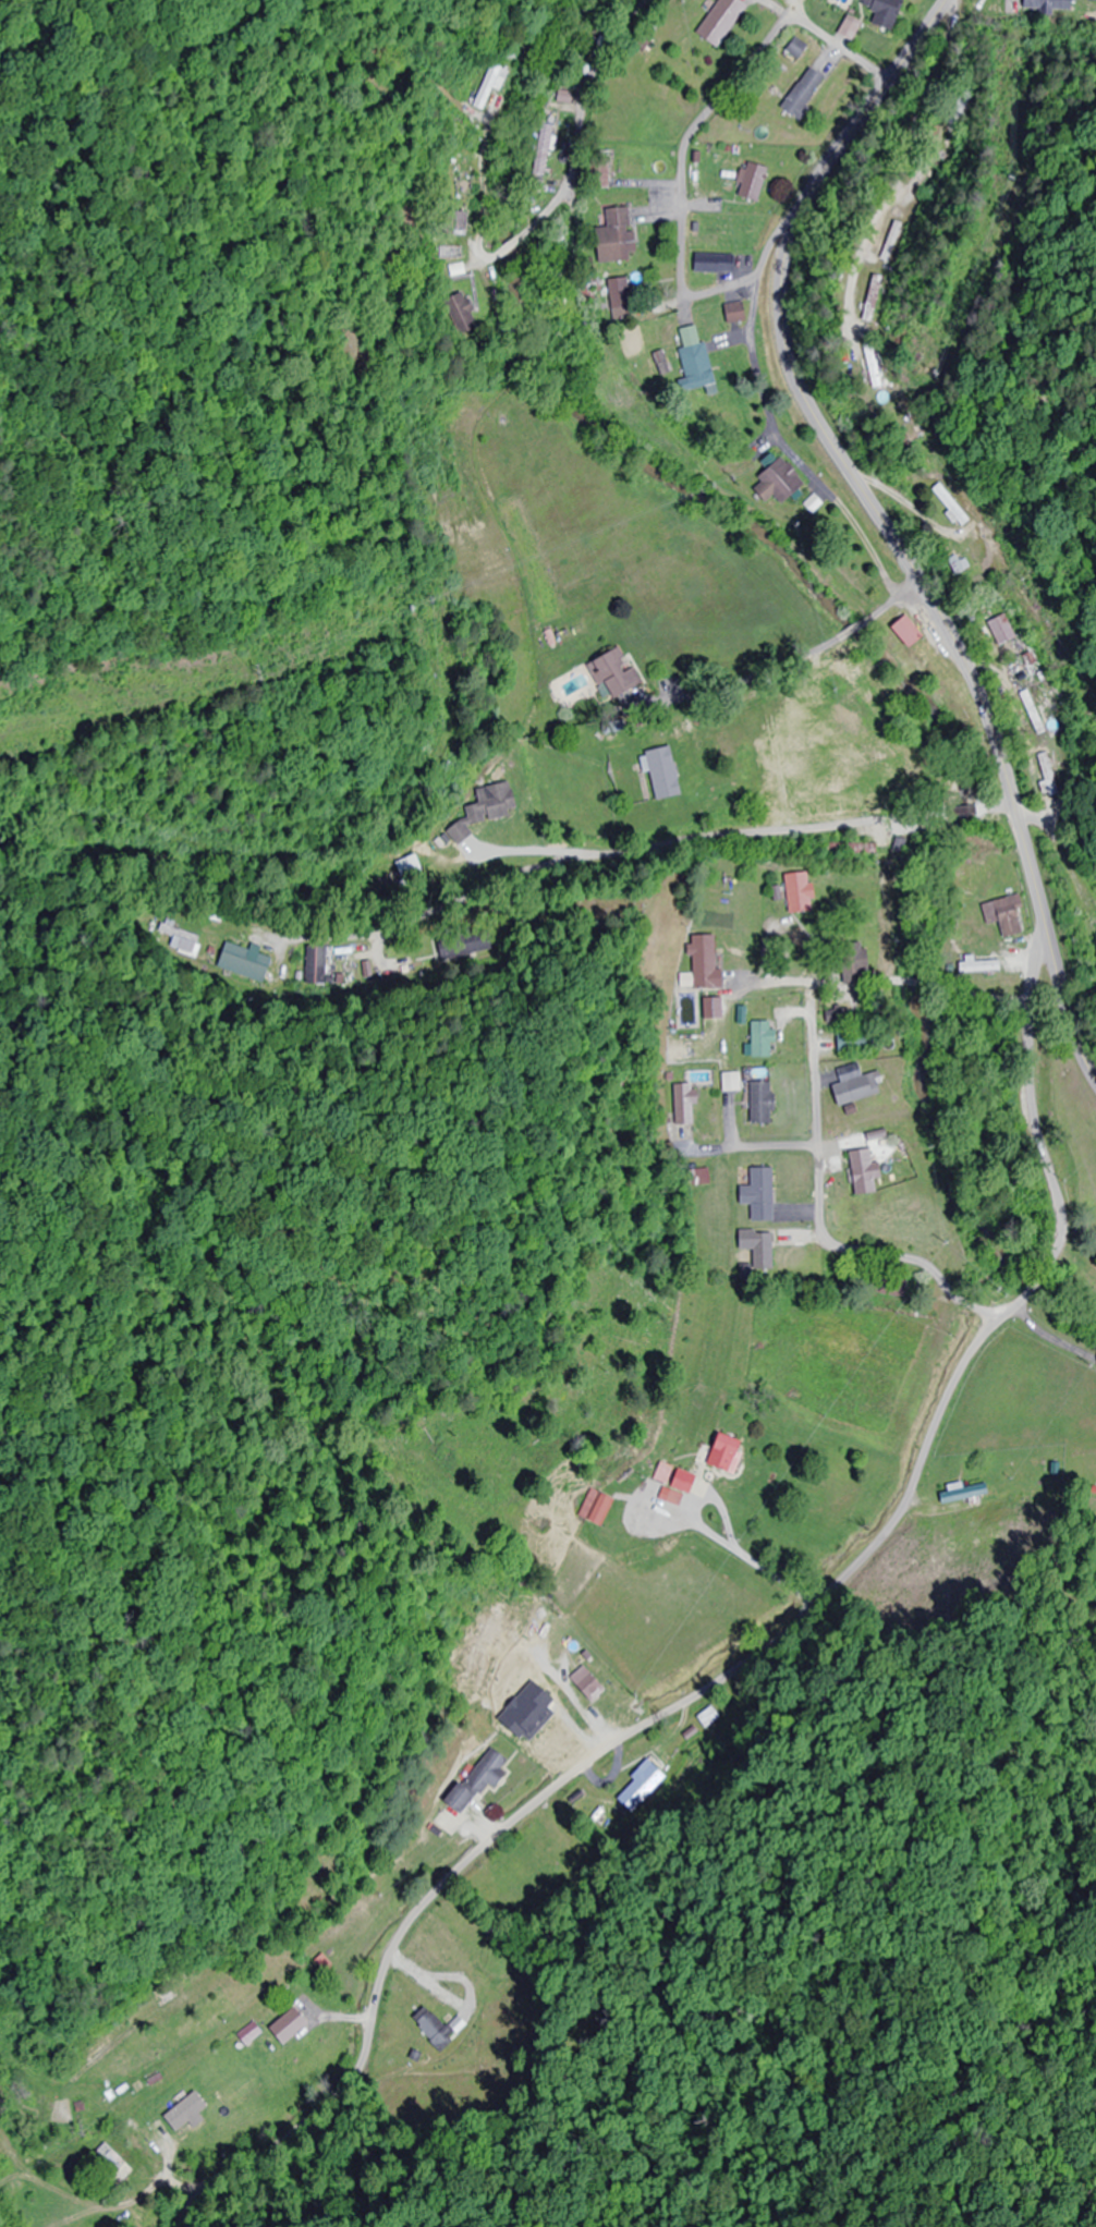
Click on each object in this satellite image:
building: (1048, 5)
building: (887, 12)
building: (724, 21)
building: (800, 48)
building: (492, 85)
building: (803, 88)
road: (580, 126)
road: (679, 154)
building: (748, 181)
building: (610, 236)
building: (892, 242)
building: (710, 261)
building: (616, 295)
building: (732, 313)
building: (464, 314)
building: (692, 356)
building: (776, 479)
building: (947, 504)
road: (771, 521)
road: (885, 524)
building: (953, 565)
building: (997, 630)
building: (902, 631)
building: (618, 674)
building: (1038, 766)
building: (659, 772)
building: (706, 795)
building: (494, 804)
building: (848, 849)
road: (767, 857)
building: (385, 879)
building: (795, 892)
road: (1071, 908)
building: (1003, 915)
building: (1087, 930)
road: (840, 944)
building: (708, 963)
building: (850, 964)
road: (906, 982)
road: (1047, 1003)
building: (758, 1038)
building: (854, 1042)
building: (851, 1090)
building: (757, 1103)
building: (687, 1104)
building: (860, 1171)
road: (776, 1185)
building: (758, 1194)
road: (820, 1221)
building: (757, 1245)
building: (884, 1286)
building: (731, 1453)
building: (667, 1474)
building: (684, 1487)
building: (964, 1494)
building: (600, 1507)
road: (757, 1655)
building: (590, 1683)
building: (704, 1717)
building: (474, 1792)
building: (293, 2025)
building: (431, 2025)
building: (117, 2162)

